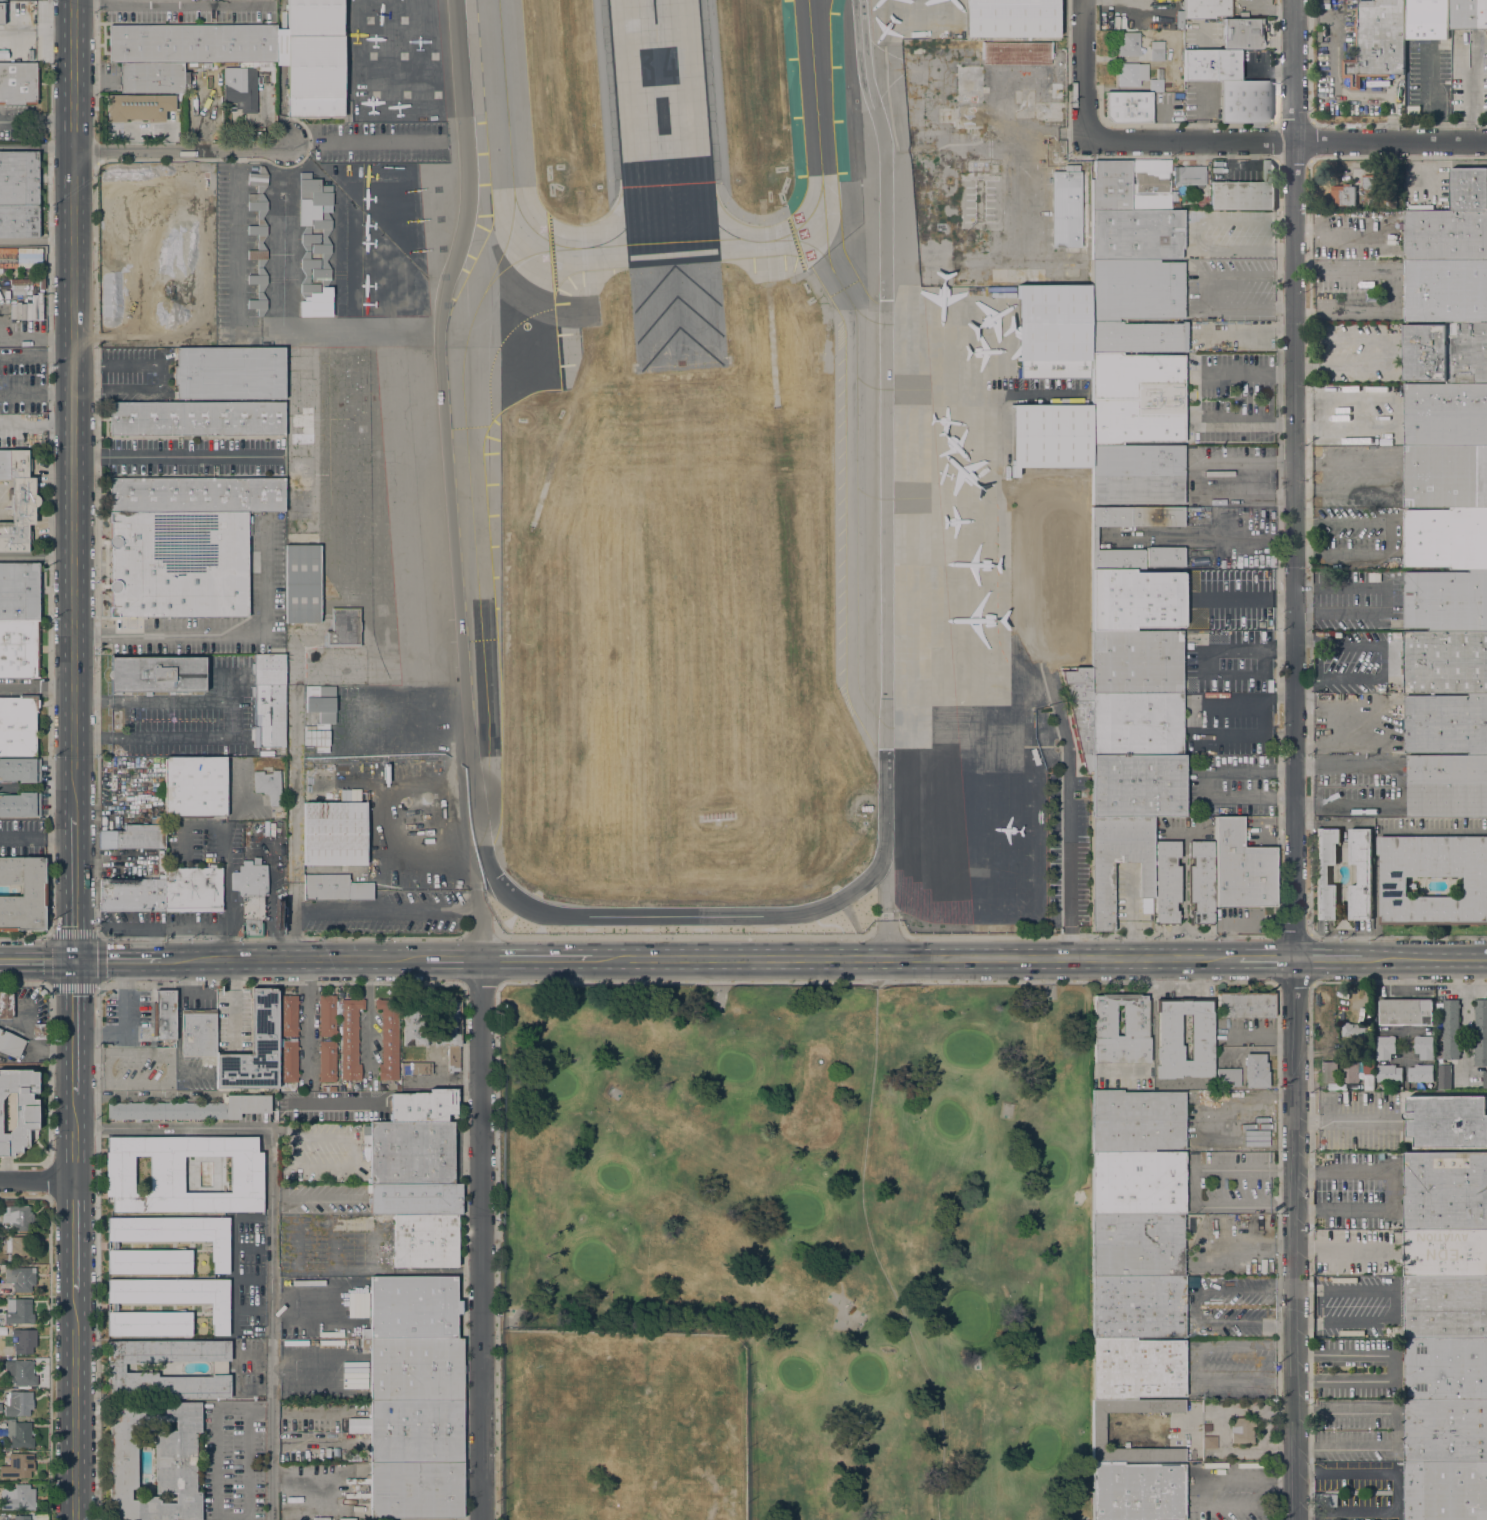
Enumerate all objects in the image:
building: (2, 0)
road: (111, 5)
building: (1206, 9)
road: (170, 10)
building: (1, 14)
building: (1468, 14)
building: (1010, 18)
building: (1427, 19)
helipad: (400, 21)
helipad: (368, 23)
building: (1172, 23)
building: (1241, 35)
road: (74, 40)
building: (1377, 40)
building: (192, 44)
building: (1129, 45)
building: (1156, 51)
building: (1016, 54)
helipad: (402, 56)
helipad: (371, 57)
helipad: (435, 57)
building: (315, 58)
building: (198, 66)
building: (1210, 66)
building: (264, 69)
building: (217, 71)
road: (1086, 72)
building: (1132, 75)
building: (152, 78)
building: (1156, 83)
building: (19, 85)
building: (240, 88)
road: (1334, 89)
building: (1056, 91)
building: (967, 94)
helipad: (435, 95)
helipad: (406, 97)
helipad: (374, 98)
building: (1245, 102)
road: (1469, 106)
building: (139, 107)
building: (1128, 108)
building: (279, 110)
airport taxiway: (815, 110)
building: (1052, 111)
road: (74, 116)
road: (1439, 119)
road: (37, 120)
airport taxiway: (506, 121)
building: (971, 128)
airport runway: (662, 132)
road: (1071, 132)
road: (456, 139)
road: (365, 140)
road: (1286, 145)
road: (179, 149)
building: (1191, 175)
building: (19, 179)
building: (259, 179)
building: (1150, 184)
building: (1369, 184)
building: (1111, 187)
building: (1133, 188)
helipad: (438, 189)
building: (1469, 189)
building: (1245, 193)
building: (1344, 194)
building: (1389, 203)
building: (1136, 205)
building: (1065, 208)
airport taxiway: (635, 215)
building: (19, 222)
helipad: (439, 223)
airport taxiway: (725, 232)
building: (1136, 235)
road: (1200, 235)
building: (1446, 235)
building: (324, 244)
airport taxiway: (804, 244)
airport taxiway: (637, 245)
airport taxiway: (503, 248)
helipad: (439, 251)
building: (258, 252)
building: (20, 258)
building: (309, 263)
road: (1345, 267)
road: (1252, 276)
helipad: (441, 279)
building: (1136, 290)
road: (1202, 291)
building: (1446, 291)
road: (1361, 306)
road: (1251, 307)
building: (21, 312)
building: (1053, 331)
building: (1137, 338)
road: (1392, 352)
building: (1446, 352)
road: (36, 360)
road: (1246, 371)
building: (229, 372)
road: (163, 375)
road: (36, 393)
building: (1137, 399)
road: (1392, 413)
building: (1446, 415)
building: (196, 418)
building: (354, 418)
road: (1247, 424)
road: (36, 426)
building: (1050, 436)
road: (175, 456)
airport: (677, 464)
airport taxiway: (855, 470)
building: (1137, 475)
road: (1377, 475)
building: (1446, 476)
road: (1188, 478)
road: (73, 481)
building: (196, 495)
building: (17, 502)
building: (299, 506)
road: (1343, 525)
airport taxiway: (472, 529)
road: (1229, 537)
building: (1094, 538)
building: (1446, 538)
road: (1354, 556)
road: (36, 557)
building: (1164, 557)
building: (178, 564)
building: (301, 583)
building: (19, 591)
road: (1245, 598)
road: (1384, 599)
building: (1136, 600)
building: (1446, 601)
building: (344, 627)
road: (218, 631)
building: (1336, 635)
road: (1309, 641)
road: (1238, 646)
building: (19, 649)
road: (1382, 661)
building: (1446, 662)
building: (1136, 663)
building: (157, 674)
road: (1309, 680)
road: (36, 689)
building: (1383, 690)
building: (269, 700)
building: (321, 702)
building: (1079, 710)
road: (234, 717)
building: (1447, 724)
building: (1136, 725)
building: (18, 726)
building: (317, 737)
road: (1295, 759)
building: (20, 770)
road: (1202, 783)
building: (268, 786)
building: (1137, 786)
building: (1447, 786)
building: (194, 787)
building: (339, 795)
building: (344, 797)
building: (356, 798)
building: (20, 805)
building: (866, 808)
road: (1070, 817)
building: (154, 821)
road: (295, 825)
road: (1415, 828)
airport hangar: (335, 834)
building: (335, 834)
building: (133, 837)
road: (35, 838)
building: (1345, 839)
building: (1241, 868)
building: (1326, 873)
building: (1361, 873)
building: (1102, 880)
building: (1201, 882)
building: (1167, 883)
road: (72, 886)
building: (1394, 886)
building: (335, 888)
road: (1182, 888)
building: (193, 889)
building: (23, 894)
building: (132, 895)
building: (251, 896)
road: (886, 911)
road: (1375, 911)
road: (680, 915)
road: (1293, 934)
road: (1397, 936)
road: (687, 937)
road: (24, 938)
road: (536, 959)
road: (916, 959)
road: (1266, 959)
road: (1328, 959)
road: (1425, 959)
road: (452, 960)
road: (36, 961)
traffic signals: (73, 961)
road: (120, 961)
road: (296, 961)
road: (886, 981)
road: (1294, 981)
road: (1399, 981)
road: (1455, 981)
road: (280, 983)
road: (481, 983)
road: (24, 984)
road: (48, 985)
building: (6, 1004)
building: (1246, 1005)
building: (1407, 1011)
road: (1468, 1013)
building: (163, 1015)
building: (289, 1015)
building: (327, 1016)
building: (1134, 1020)
road: (308, 1022)
building: (414, 1025)
building: (1451, 1028)
building: (449, 1030)
building: (1201, 1030)
building: (38, 1032)
building: (1356, 1032)
building: (1480, 1032)
building: (199, 1035)
building: (350, 1039)
building: (389, 1039)
road: (34, 1042)
building: (10, 1045)
building: (1385, 1047)
building: (1425, 1047)
building: (253, 1050)
building: (1369, 1051)
park: (966, 1052)
building: (327, 1061)
building: (288, 1062)
building: (1369, 1066)
building: (416, 1068)
park: (734, 1068)
road: (73, 1071)
building: (1255, 1071)
road: (49, 1072)
building: (1328, 1072)
building: (1350, 1072)
building: (1390, 1073)
building: (1421, 1073)
building: (1228, 1076)
building: (1445, 1076)
building: (1485, 1079)
park: (559, 1085)
building: (325, 1089)
building: (343, 1089)
building: (423, 1106)
building: (189, 1110)
building: (19, 1111)
park: (949, 1121)
building: (1446, 1121)
building: (1137, 1122)
road: (1345, 1122)
building: (410, 1153)
park: (1052, 1168)
building: (166, 1175)
park: (612, 1178)
road: (51, 1180)
road: (36, 1181)
building: (1137, 1183)
road: (1197, 1187)
road: (1390, 1189)
building: (1446, 1191)
building: (415, 1200)
park: (800, 1211)
building: (18, 1218)
road: (270, 1225)
road: (73, 1237)
road: (480, 1239)
building: (425, 1241)
building: (1137, 1245)
road: (1248, 1245)
road: (1343, 1245)
building: (219, 1247)
building: (15, 1249)
road: (496, 1251)
road: (97, 1252)
park: (795, 1252)
building: (1446, 1253)
park: (592, 1262)
building: (20, 1278)
building: (1446, 1292)
road: (1394, 1303)
building: (357, 1305)
road: (281, 1306)
road: (1193, 1306)
building: (1137, 1307)
building: (412, 1308)
building: (219, 1309)
building: (18, 1311)
park: (967, 1319)
road: (351, 1320)
building: (1446, 1323)
building: (24, 1341)
road: (50, 1360)
road: (280, 1363)
road: (1395, 1366)
building: (115, 1368)
building: (415, 1369)
building: (1137, 1369)
building: (1446, 1369)
building: (23, 1374)
park: (795, 1374)
park: (865, 1375)
road: (349, 1382)
building: (18, 1404)
road: (74, 1406)
park: (623, 1426)
building: (1207, 1427)
road: (1395, 1428)
building: (1242, 1430)
building: (1098, 1431)
building: (1446, 1431)
building: (415, 1432)
building: (20, 1434)
building: (1209, 1442)
park: (1041, 1448)
building: (353, 1457)
building: (155, 1460)
building: (18, 1466)
road: (1205, 1480)
building: (416, 1491)
building: (1137, 1491)
road: (1395, 1491)
building: (1446, 1491)
building: (17, 1498)
road: (216, 1498)
building: (23, 1518)

